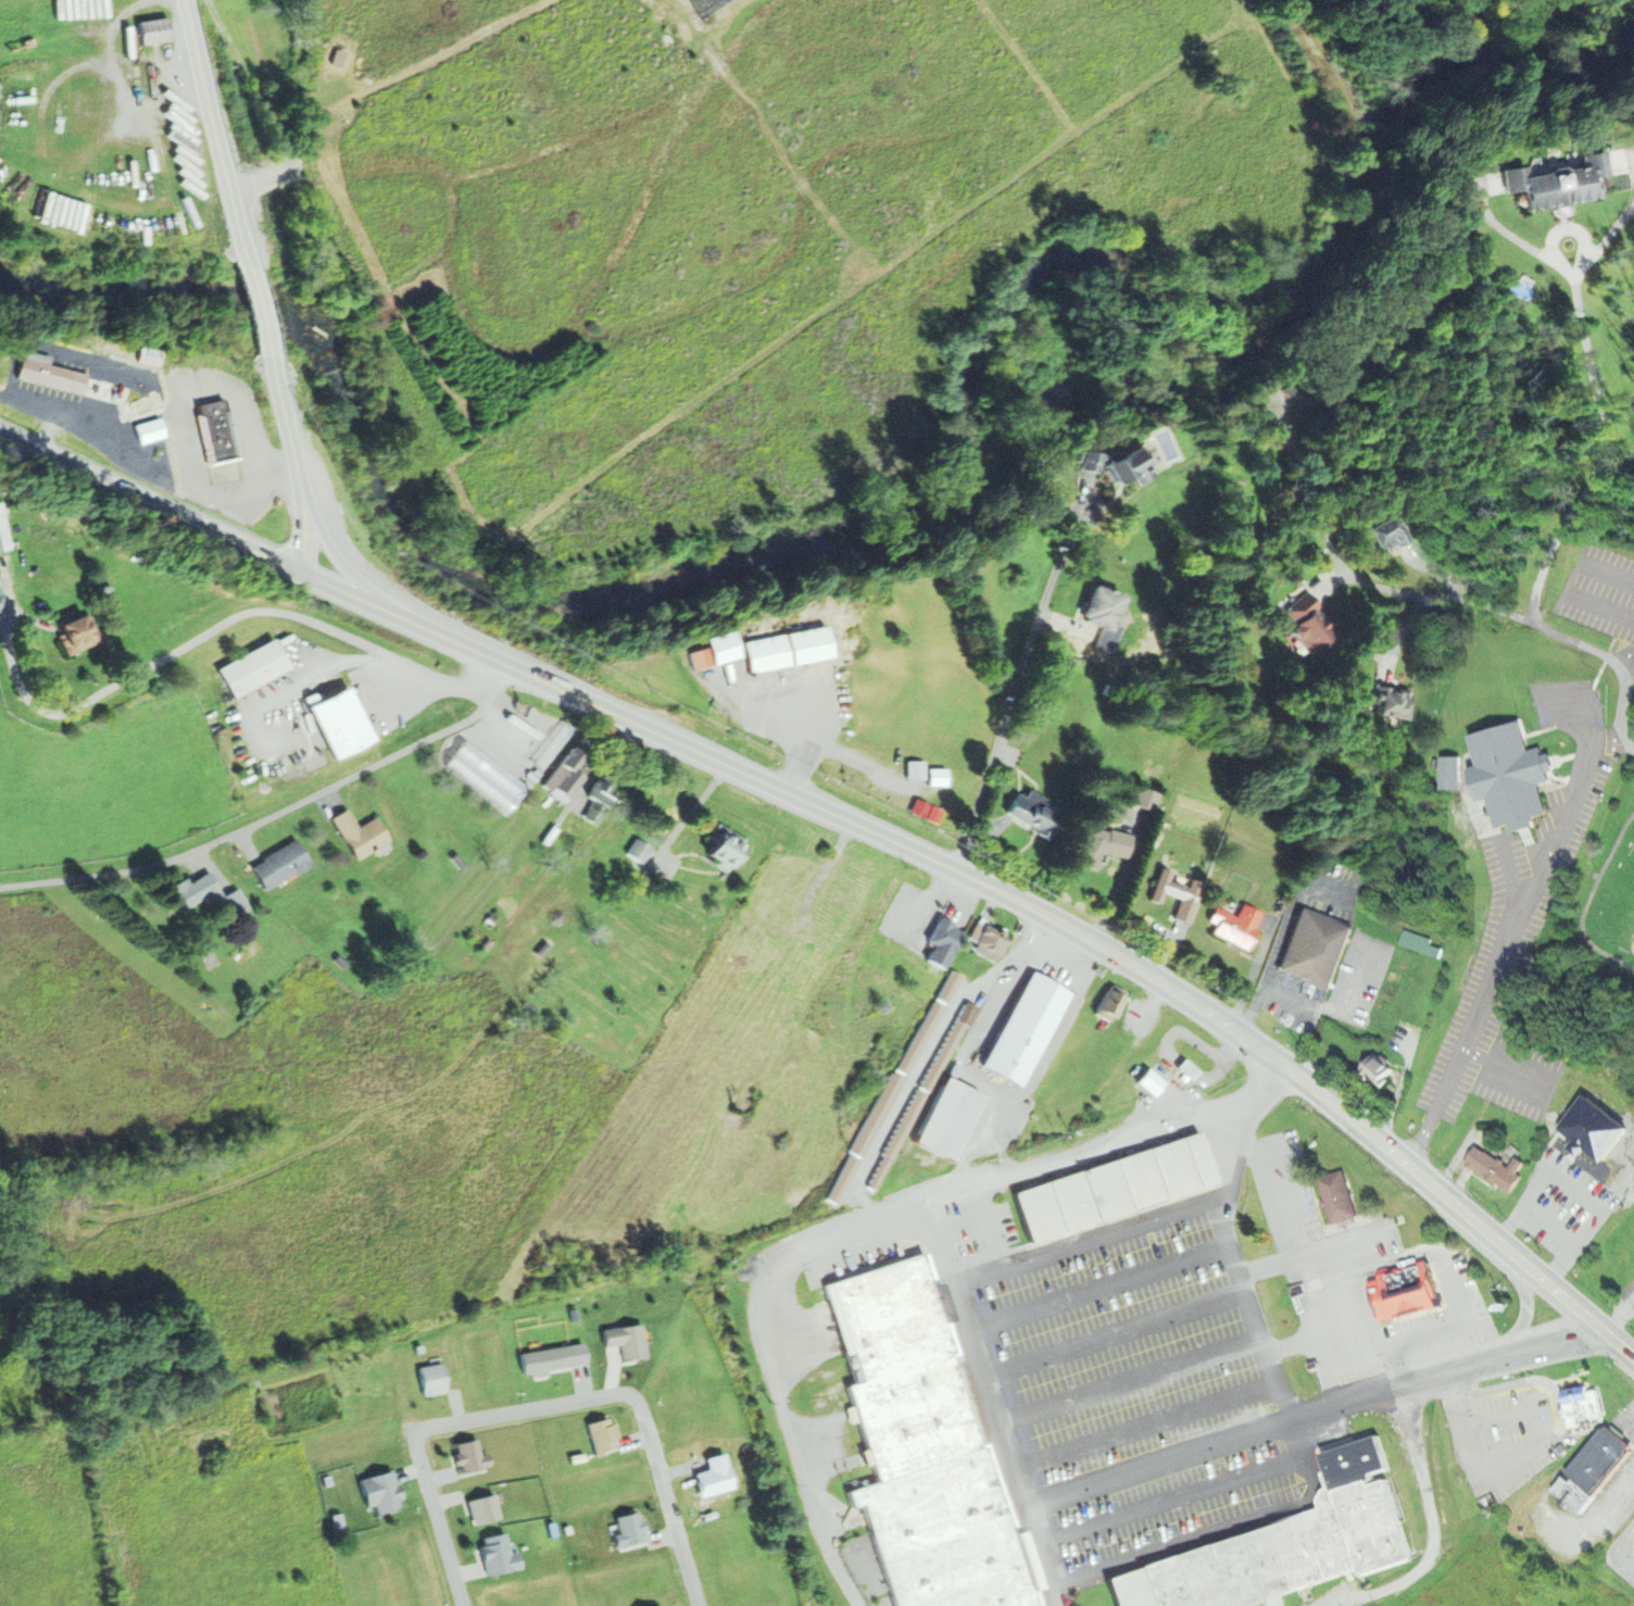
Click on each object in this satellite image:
road: (684, 24)
building: (156, 28)
road: (391, 84)
road: (221, 129)
building: (1560, 179)
road: (263, 310)
building: (266, 325)
building: (150, 354)
building: (50, 371)
building: (100, 389)
building: (148, 405)
building: (217, 431)
building: (1093, 460)
road: (300, 463)
building: (1132, 465)
road: (99, 478)
building: (3, 530)
building: (1388, 534)
road: (1559, 534)
river: (810, 544)
road: (352, 572)
road: (1570, 582)
building: (0, 587)
road: (1381, 587)
parking lot: (1599, 590)
building: (3, 604)
building: (1103, 606)
building: (1308, 620)
road: (216, 627)
building: (77, 633)
building: (726, 645)
building: (791, 650)
road: (1629, 662)
building: (254, 665)
road: (294, 680)
road: (1011, 699)
building: (1395, 702)
building: (343, 722)
road: (1611, 742)
building: (1450, 770)
building: (1512, 775)
building: (566, 776)
building: (1148, 798)
building: (598, 803)
building: (1033, 812)
road: (275, 813)
building: (362, 831)
building: (726, 840)
building: (1106, 845)
building: (640, 851)
building: (461, 860)
building: (281, 864)
road: (958, 869)
building: (198, 888)
building: (1177, 892)
building: (237, 896)
building: (1237, 923)
parking lot: (1517, 938)
road: (1510, 939)
building: (944, 941)
building: (991, 942)
building: (1419, 944)
building: (1315, 948)
building: (1110, 1005)
building: (1027, 1030)
road: (930, 1055)
building: (1191, 1070)
building: (1375, 1070)
building: (894, 1088)
building: (921, 1097)
building: (951, 1120)
road: (1241, 1133)
building: (1497, 1168)
building: (1578, 1181)
building: (1117, 1187)
building: (1336, 1197)
road: (993, 1222)
road: (841, 1232)
road: (1093, 1234)
road: (1363, 1234)
road: (1270, 1264)
road: (1095, 1268)
road: (1331, 1279)
parking lot: (1362, 1280)
building: (1405, 1291)
road: (1105, 1302)
road: (1360, 1314)
road: (1250, 1317)
road: (1620, 1319)
road: (1118, 1343)
road: (1293, 1344)
road: (1365, 1355)
road: (1399, 1366)
road: (1445, 1373)
road: (1129, 1377)
parking lot: (1140, 1381)
road: (1328, 1385)
road: (991, 1389)
road: (632, 1396)
building: (1581, 1404)
road: (1142, 1419)
parking lot: (1504, 1435)
road: (1294, 1445)
building: (922, 1448)
road: (1156, 1463)
road: (1506, 1467)
building: (1592, 1469)
road: (1171, 1510)
road: (440, 1518)
road: (1431, 1522)
road: (1198, 1538)
parking lot: (1623, 1542)
building: (1285, 1543)
building: (499, 1556)
road: (1054, 1595)

